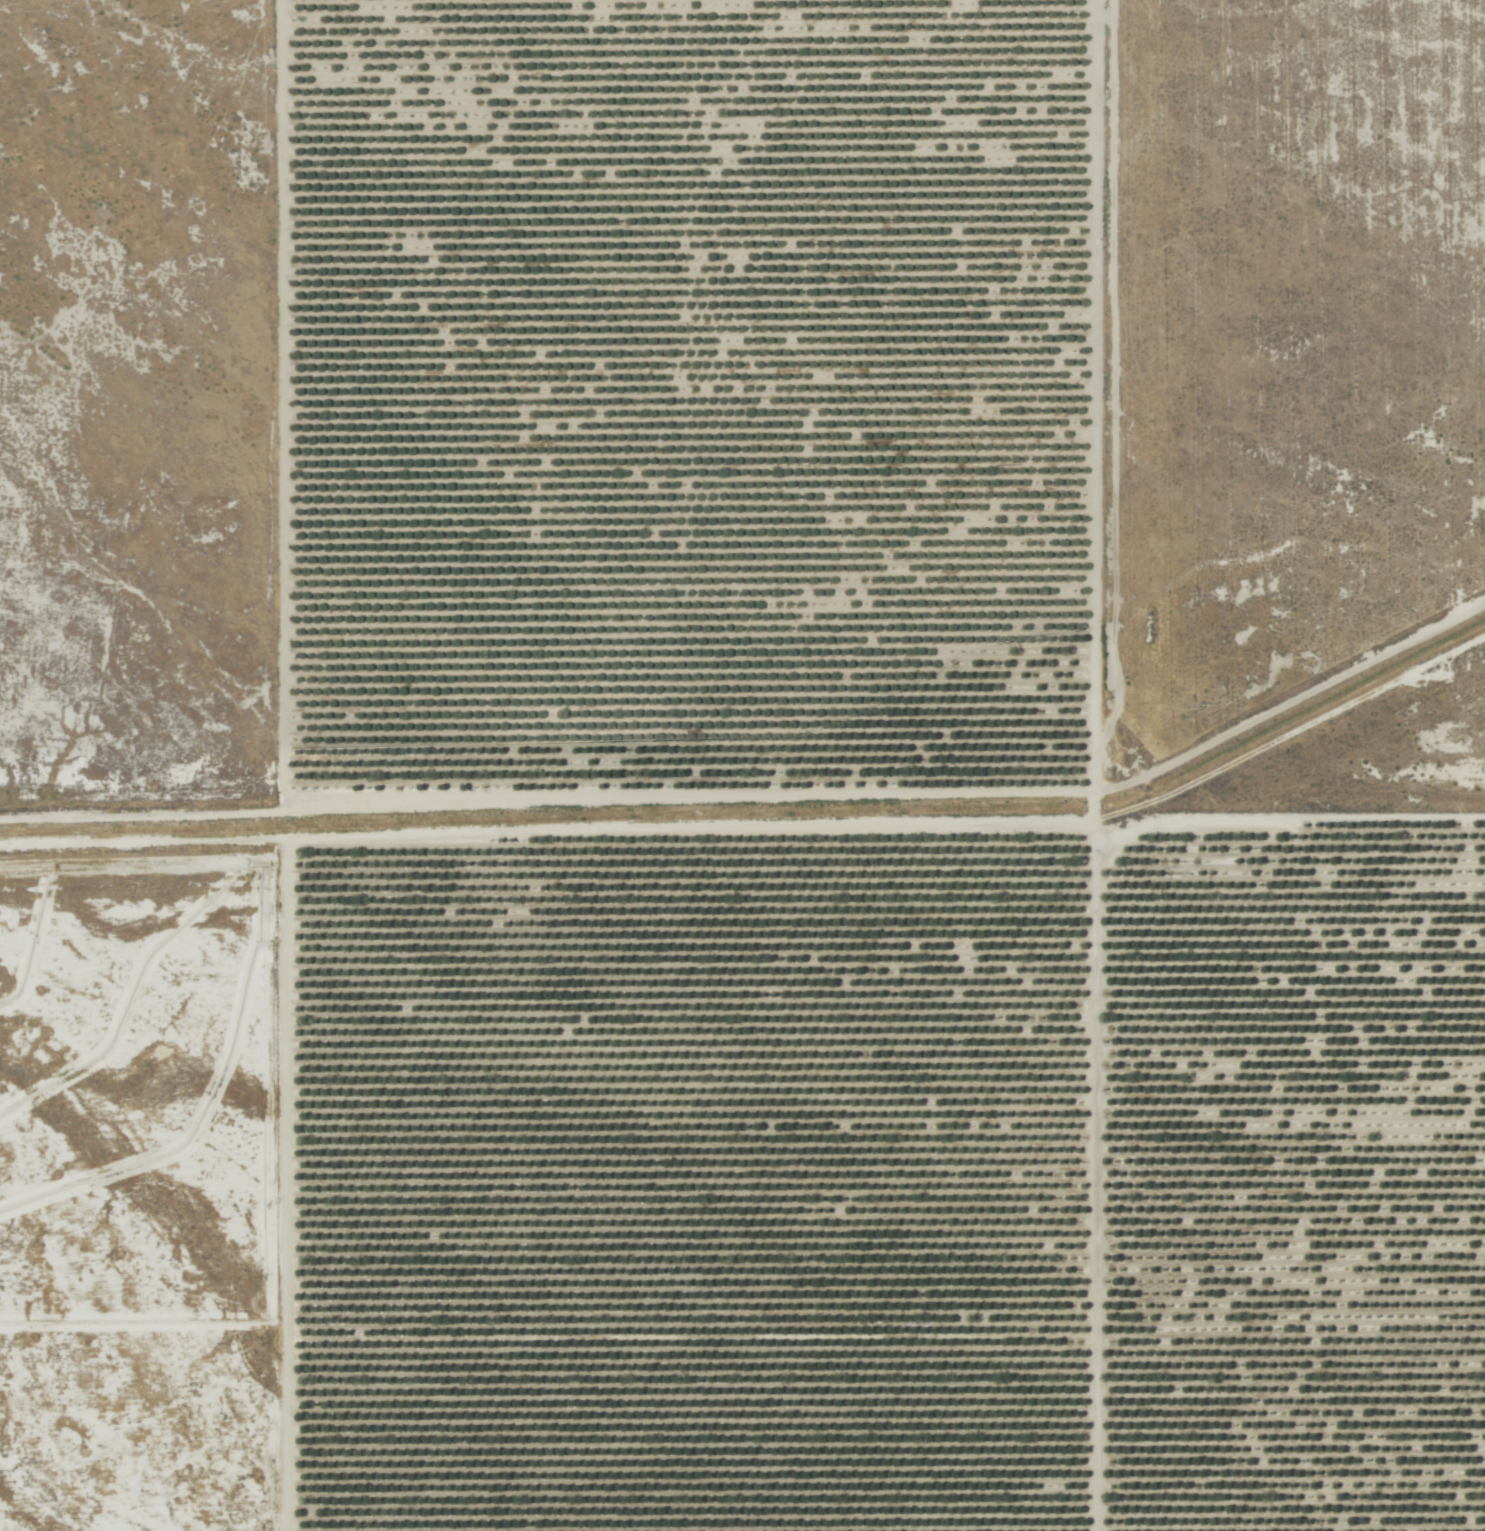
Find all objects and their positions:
crop: (800, 838)
building: (749, 1098)
building: (832, 1363)

